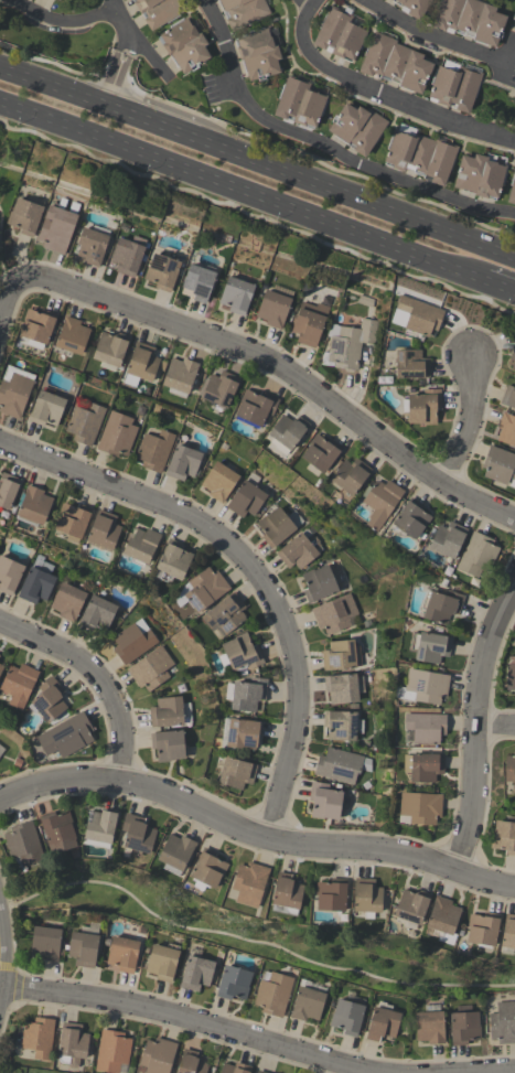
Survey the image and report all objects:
building: (60, 0)
road: (303, 4)
road: (312, 4)
building: (414, 7)
building: (157, 11)
building: (242, 11)
building: (470, 19)
road: (62, 22)
building: (339, 35)
road: (434, 37)
road: (138, 41)
building: (184, 45)
building: (257, 54)
building: (396, 63)
road: (118, 67)
road: (53, 84)
building: (453, 88)
road: (386, 96)
building: (298, 103)
road: (150, 120)
building: (356, 128)
road: (324, 147)
building: (420, 155)
building: (479, 176)
park: (10, 182)
road: (243, 191)
building: (512, 191)
road: (354, 196)
building: (23, 216)
building: (55, 228)
building: (90, 246)
building: (126, 255)
road: (1, 257)
building: (161, 271)
building: (196, 282)
road: (501, 287)
building: (236, 294)
road: (8, 301)
building: (271, 309)
building: (415, 316)
building: (308, 323)
building: (35, 329)
building: (72, 335)
building: (347, 343)
building: (109, 350)
building: (512, 361)
building: (140, 364)
building: (410, 364)
road: (282, 368)
building: (179, 375)
building: (218, 389)
building: (13, 390)
building: (508, 397)
building: (254, 407)
building: (422, 407)
building: (84, 422)
road: (471, 422)
building: (506, 430)
building: (286, 431)
building: (116, 434)
building: (153, 450)
building: (319, 453)
building: (182, 462)
building: (498, 465)
building: (350, 475)
building: (218, 481)
building: (7, 490)
building: (246, 498)
building: (379, 502)
building: (34, 505)
building: (410, 519)
building: (71, 521)
building: (275, 526)
building: (103, 530)
building: (448, 539)
building: (142, 546)
building: (299, 550)
building: (478, 555)
building: (174, 561)
road: (251, 568)
building: (9, 575)
building: (319, 583)
building: (36, 586)
building: (206, 589)
building: (68, 601)
building: (441, 605)
building: (226, 613)
building: (97, 614)
building: (336, 614)
building: (133, 642)
building: (430, 646)
building: (243, 653)
building: (342, 655)
building: (1, 668)
building: (151, 669)
road: (98, 676)
building: (511, 677)
building: (19, 684)
building: (426, 686)
building: (342, 688)
building: (248, 694)
building: (50, 700)
building: (167, 712)
building: (341, 725)
road: (476, 727)
road: (496, 727)
building: (425, 728)
building: (243, 733)
building: (67, 736)
building: (169, 745)
building: (1, 749)
building: (342, 765)
building: (423, 766)
building: (511, 770)
building: (236, 773)
building: (324, 801)
building: (420, 807)
building: (101, 829)
building: (58, 830)
road: (253, 834)
building: (138, 835)
building: (504, 837)
building: (24, 846)
building: (176, 854)
building: (208, 868)
building: (249, 883)
building: (332, 894)
building: (287, 895)
building: (367, 897)
building: (412, 905)
building: (443, 920)
building: (483, 929)
building: (508, 932)
building: (46, 943)
road: (251, 943)
building: (84, 949)
building: (124, 954)
building: (163, 962)
road: (1, 963)
building: (197, 973)
building: (234, 983)
building: (273, 992)
building: (308, 1005)
building: (347, 1017)
road: (190, 1018)
building: (383, 1023)
building: (503, 1023)
building: (464, 1026)
building: (430, 1027)
building: (39, 1038)
building: (73, 1044)
building: (112, 1051)
building: (158, 1055)
building: (192, 1063)
building: (236, 1069)
building: (261, 1072)
road: (509, 1072)

